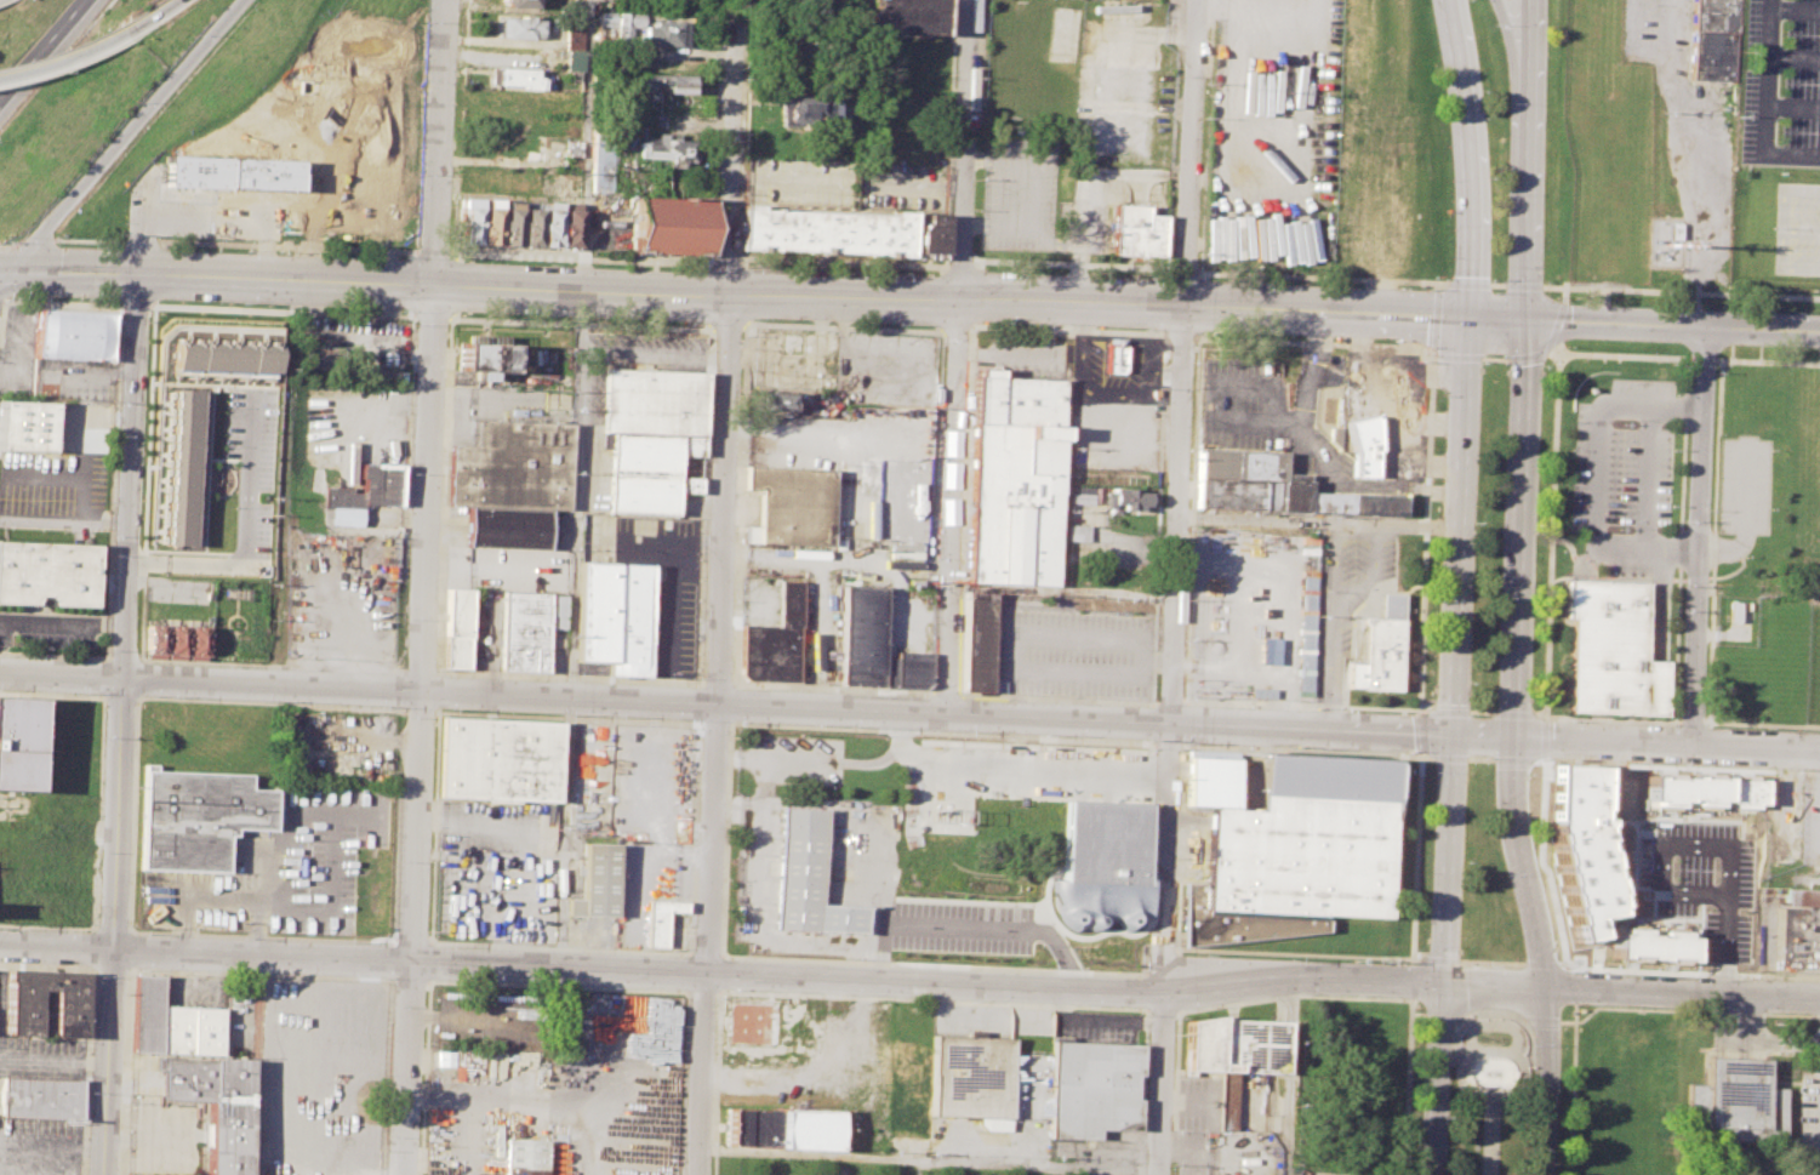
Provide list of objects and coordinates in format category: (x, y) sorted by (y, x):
building: (521, 2)
building: (907, 16)
road: (150, 17)
building: (623, 24)
building: (523, 28)
road: (1768, 28)
building: (577, 34)
building: (667, 34)
building: (1712, 39)
road: (1511, 47)
road: (1523, 47)
road: (41, 49)
road: (1793, 58)
road: (62, 59)
building: (576, 61)
building: (519, 78)
building: (663, 82)
parking lot: (1780, 82)
building: (803, 110)
road: (1764, 131)
road: (948, 132)
park: (1494, 132)
road: (1173, 133)
road: (1205, 133)
road: (121, 135)
road: (423, 135)
road: (438, 142)
building: (577, 148)
building: (666, 149)
road: (965, 153)
road: (742, 154)
road: (1466, 158)
road: (1699, 161)
road: (717, 165)
building: (603, 169)
building: (196, 172)
parking lot: (844, 183)
road: (849, 183)
road: (1034, 193)
parking lot: (1020, 194)
parking lot: (206, 203)
road: (204, 212)
building: (470, 221)
building: (491, 221)
building: (512, 222)
building: (532, 223)
building: (552, 223)
building: (571, 223)
building: (671, 224)
park: (1796, 228)
building: (1136, 230)
building: (826, 232)
building: (929, 235)
road: (22, 243)
road: (4, 244)
road: (787, 259)
road: (69, 274)
road: (1436, 286)
road: (1563, 291)
road: (1672, 291)
road: (548, 292)
road: (1, 300)
road: (131, 304)
road: (280, 312)
road: (1243, 313)
road: (432, 318)
road: (1432, 319)
road: (580, 321)
road: (728, 325)
road: (844, 326)
road: (957, 327)
road: (1672, 327)
road: (1066, 329)
building: (72, 333)
road: (1182, 335)
road: (1316, 342)
road: (1548, 344)
road: (1432, 355)
road: (1621, 355)
building: (221, 357)
road: (1457, 357)
building: (1116, 358)
road: (1495, 358)
road: (1705, 358)
building: (487, 360)
road: (1768, 361)
building: (1340, 398)
building: (777, 400)
road: (1305, 401)
building: (657, 403)
building: (1402, 406)
gas station: (1402, 406)
building: (27, 424)
parking lot: (1273, 426)
road: (147, 429)
road: (412, 449)
building: (1362, 449)
building: (178, 467)
building: (515, 467)
building: (650, 473)
road: (1601, 473)
road: (1649, 475)
road: (130, 477)
road: (114, 478)
building: (1017, 480)
road: (577, 484)
road: (1745, 484)
building: (1276, 487)
parking lot: (52, 492)
building: (367, 495)
building: (1082, 495)
road: (446, 496)
building: (1129, 500)
road: (706, 504)
road: (741, 504)
building: (797, 504)
road: (952, 508)
road: (1158, 519)
road: (1192, 520)
road: (1318, 521)
building: (510, 529)
road: (1424, 531)
road: (1550, 531)
building: (1078, 532)
park: (1488, 535)
road: (1679, 535)
road: (1699, 536)
road: (249, 537)
road: (656, 541)
road: (1724, 547)
building: (809, 554)
road: (142, 569)
building: (50, 574)
road: (1370, 575)
parking lot: (657, 582)
road: (161, 584)
road: (1174, 587)
road: (1758, 591)
parking lot: (340, 595)
parking lot: (1346, 595)
road: (672, 605)
road: (720, 610)
building: (614, 616)
road: (62, 624)
road: (1330, 626)
building: (458, 629)
parking lot: (50, 632)
building: (526, 633)
building: (1126, 637)
road: (1516, 637)
building: (155, 641)
building: (176, 643)
building: (196, 643)
building: (775, 643)
building: (979, 643)
building: (875, 646)
building: (1380, 648)
building: (1615, 651)
road: (122, 658)
road: (236, 664)
road: (424, 672)
road: (61, 675)
road: (105, 677)
road: (137, 678)
road: (570, 679)
road: (715, 684)
road: (735, 685)
road: (698, 686)
road: (439, 689)
road: (831, 689)
road: (942, 694)
road: (120, 697)
road: (1055, 698)
road: (272, 702)
road: (734, 702)
road: (1168, 702)
road: (698, 703)
road: (1303, 705)
road: (787, 706)
road: (1447, 709)
road: (421, 711)
road: (1480, 711)
road: (1516, 713)
road: (566, 718)
road: (1608, 718)
road: (714, 721)
road: (1151, 721)
road: (1689, 721)
road: (1759, 723)
road: (1182, 724)
road: (421, 730)
road: (942, 731)
road: (1420, 731)
road: (1482, 735)
road: (1542, 737)
road: (1168, 741)
road: (1666, 742)
building: (21, 743)
road: (1453, 746)
road: (1307, 748)
road: (1448, 758)
road: (1478, 759)
road: (1512, 760)
building: (501, 762)
road: (1676, 765)
building: (1699, 794)
road: (99, 808)
parking lot: (1063, 808)
road: (116, 814)
building: (196, 818)
road: (433, 825)
road: (694, 835)
road: (726, 837)
road: (1700, 844)
road: (1179, 846)
building: (1819, 846)
building: (1289, 848)
building: (1580, 848)
road: (1147, 855)
road: (1415, 856)
road: (1541, 862)
building: (1103, 865)
parking lot: (497, 867)
parking lot: (275, 871)
building: (806, 880)
building: (599, 882)
park: (1485, 882)
road: (974, 888)
road: (221, 894)
building: (1802, 897)
building: (662, 920)
road: (142, 932)
road: (407, 942)
building: (1649, 945)
road: (56, 947)
road: (559, 948)
road: (703, 953)
road: (1299, 953)
road: (1442, 959)
road: (428, 962)
road: (1159, 962)
road: (1491, 963)
road: (931, 964)
road: (1542, 964)
road: (108, 971)
road: (1690, 971)
road: (256, 974)
road: (1413, 979)
road: (407, 980)
road: (965, 985)
road: (1568, 985)
road: (555, 986)
road: (701, 992)
road: (1301, 996)
road: (1413, 998)
road: (931, 999)
road: (1616, 1006)
road: (1160, 1009)
road: (1179, 1010)
road: (1493, 1011)
road: (1574, 1011)
building: (22, 1014)
building: (144, 1014)
road: (1419, 1014)
road: (1443, 1016)
road: (475, 1017)
parking lot: (490, 1017)
road: (1542, 1019)
road: (1567, 1021)
building: (766, 1025)
road: (90, 1026)
building: (189, 1029)
road: (1529, 1037)
building: (313, 1043)
building: (1236, 1044)
road: (1758, 1045)
parking lot: (38, 1051)
road: (1472, 1053)
building: (444, 1059)
road: (107, 1062)
parking lot: (143, 1072)
fountain: (1490, 1073)
road: (124, 1074)
road: (384, 1077)
road: (1290, 1077)
road: (422, 1078)
parking lot: (319, 1080)
building: (972, 1080)
road: (683, 1083)
road: (715, 1083)
road: (132, 1084)
building: (1091, 1088)
building: (911, 1091)
road: (1141, 1091)
park: (1489, 1094)
parking lot: (565, 1096)
building: (39, 1097)
road: (1490, 1099)
building: (1730, 1103)
building: (212, 1105)
parking lot: (1808, 1113)
building: (785, 1129)
building: (201, 1135)
road: (1488, 1136)
road: (143, 1137)
parking lot: (160, 1139)
parking lot: (40, 1148)
building: (524, 1156)
road: (359, 1170)

